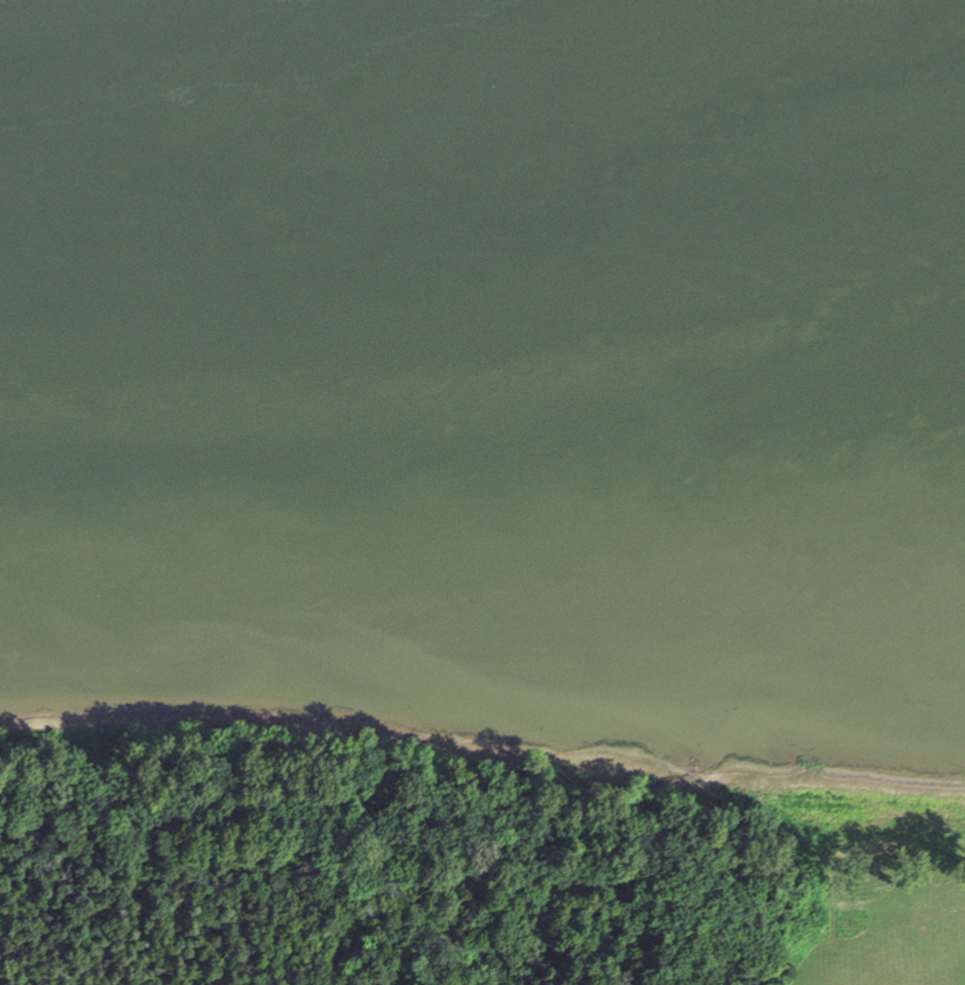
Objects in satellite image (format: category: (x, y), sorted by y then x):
building: (471, 12)
park: (816, 887)

